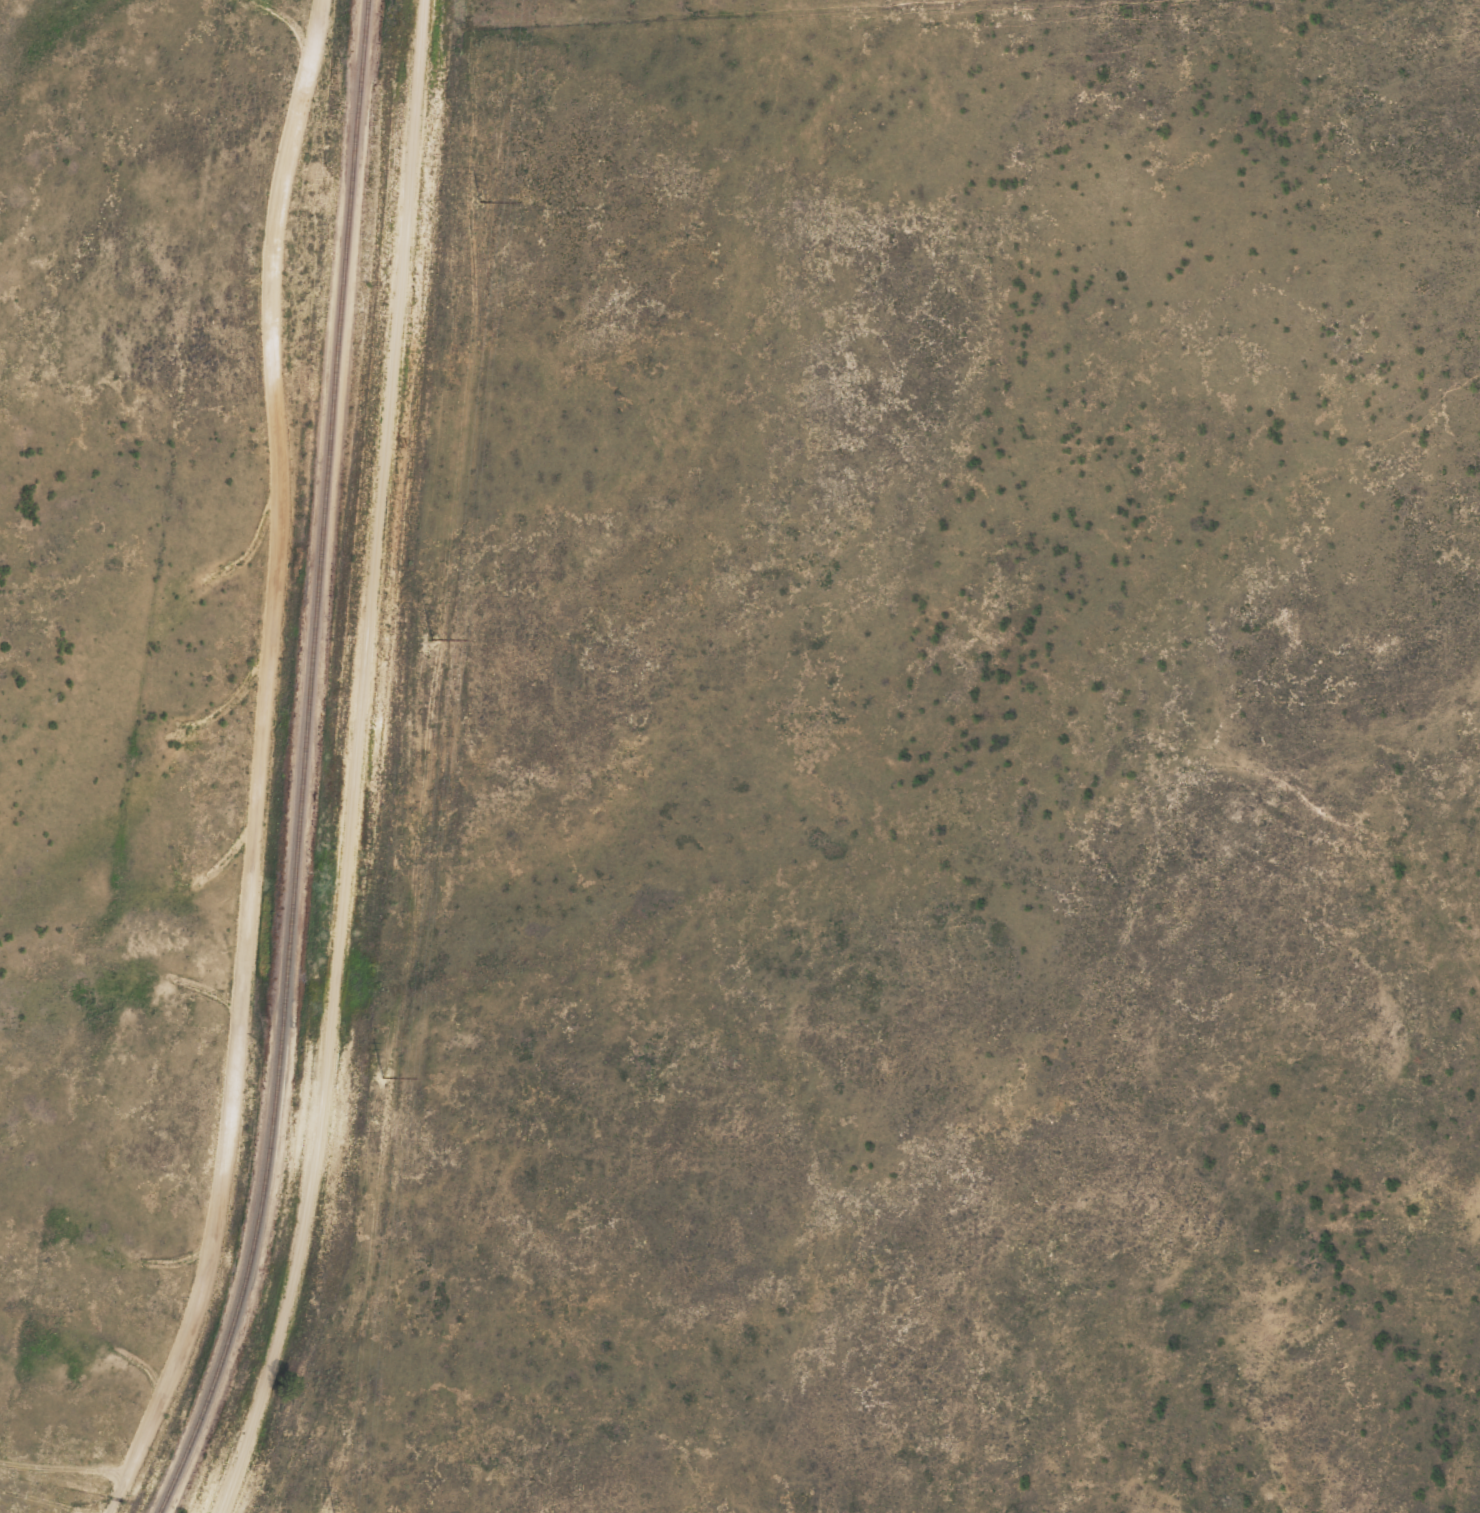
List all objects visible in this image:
power tower: (476, 200)
power tower: (428, 637)
road: (359, 763)
railway: (299, 765)
power tower: (379, 1075)
power tower: (330, 1512)

